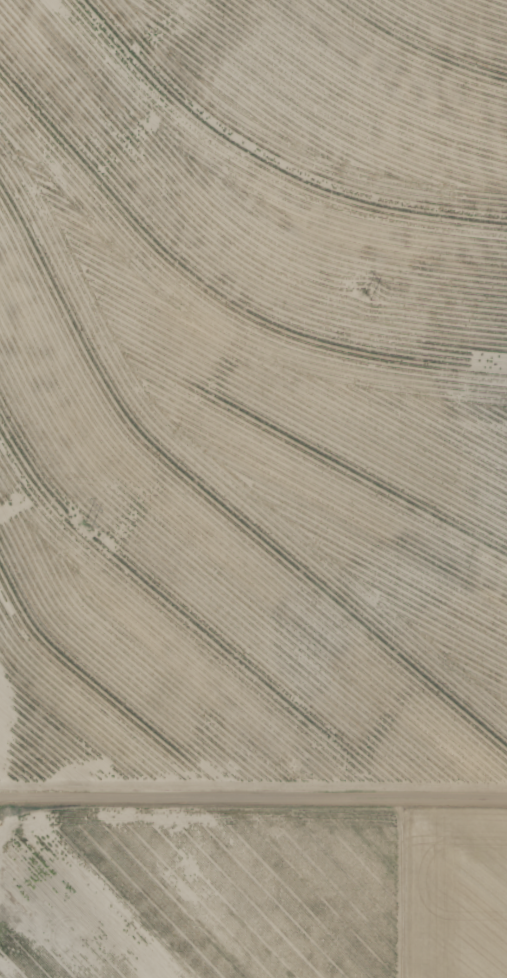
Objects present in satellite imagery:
power tower: (371, 298)
power tower: (98, 520)
road: (253, 802)

